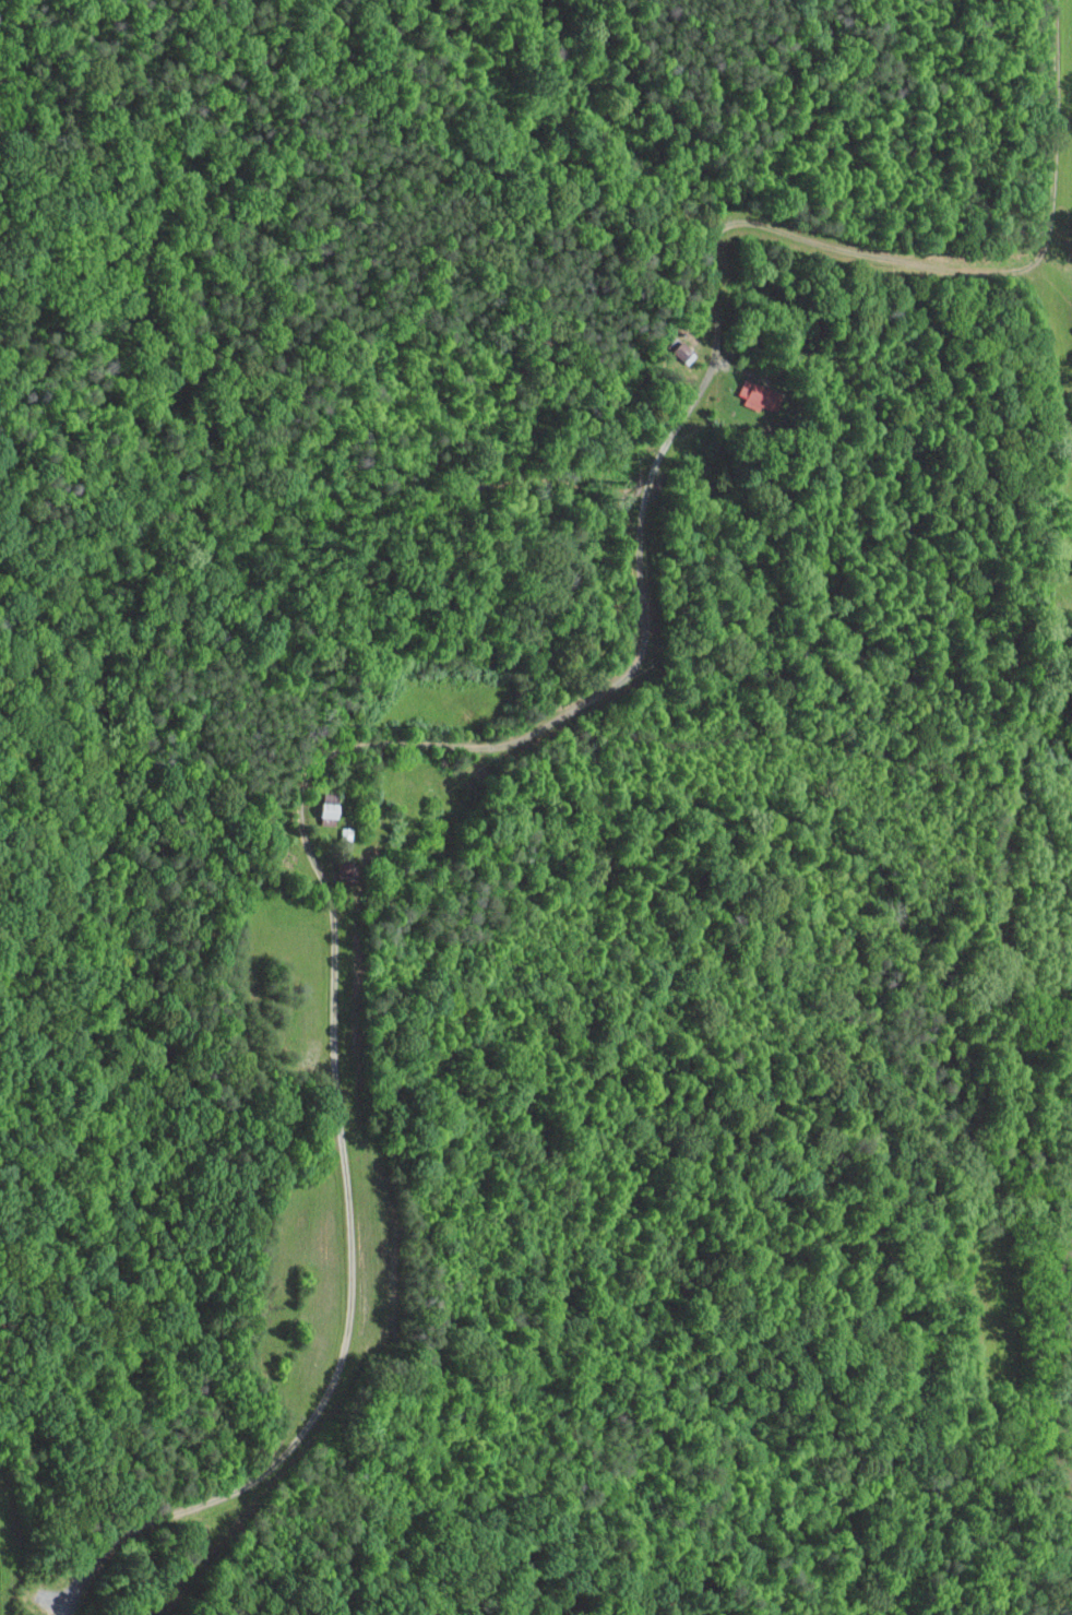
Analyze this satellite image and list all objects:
building: (666, 345)
building: (743, 389)
road: (548, 724)
building: (314, 804)
road: (83, 1577)

